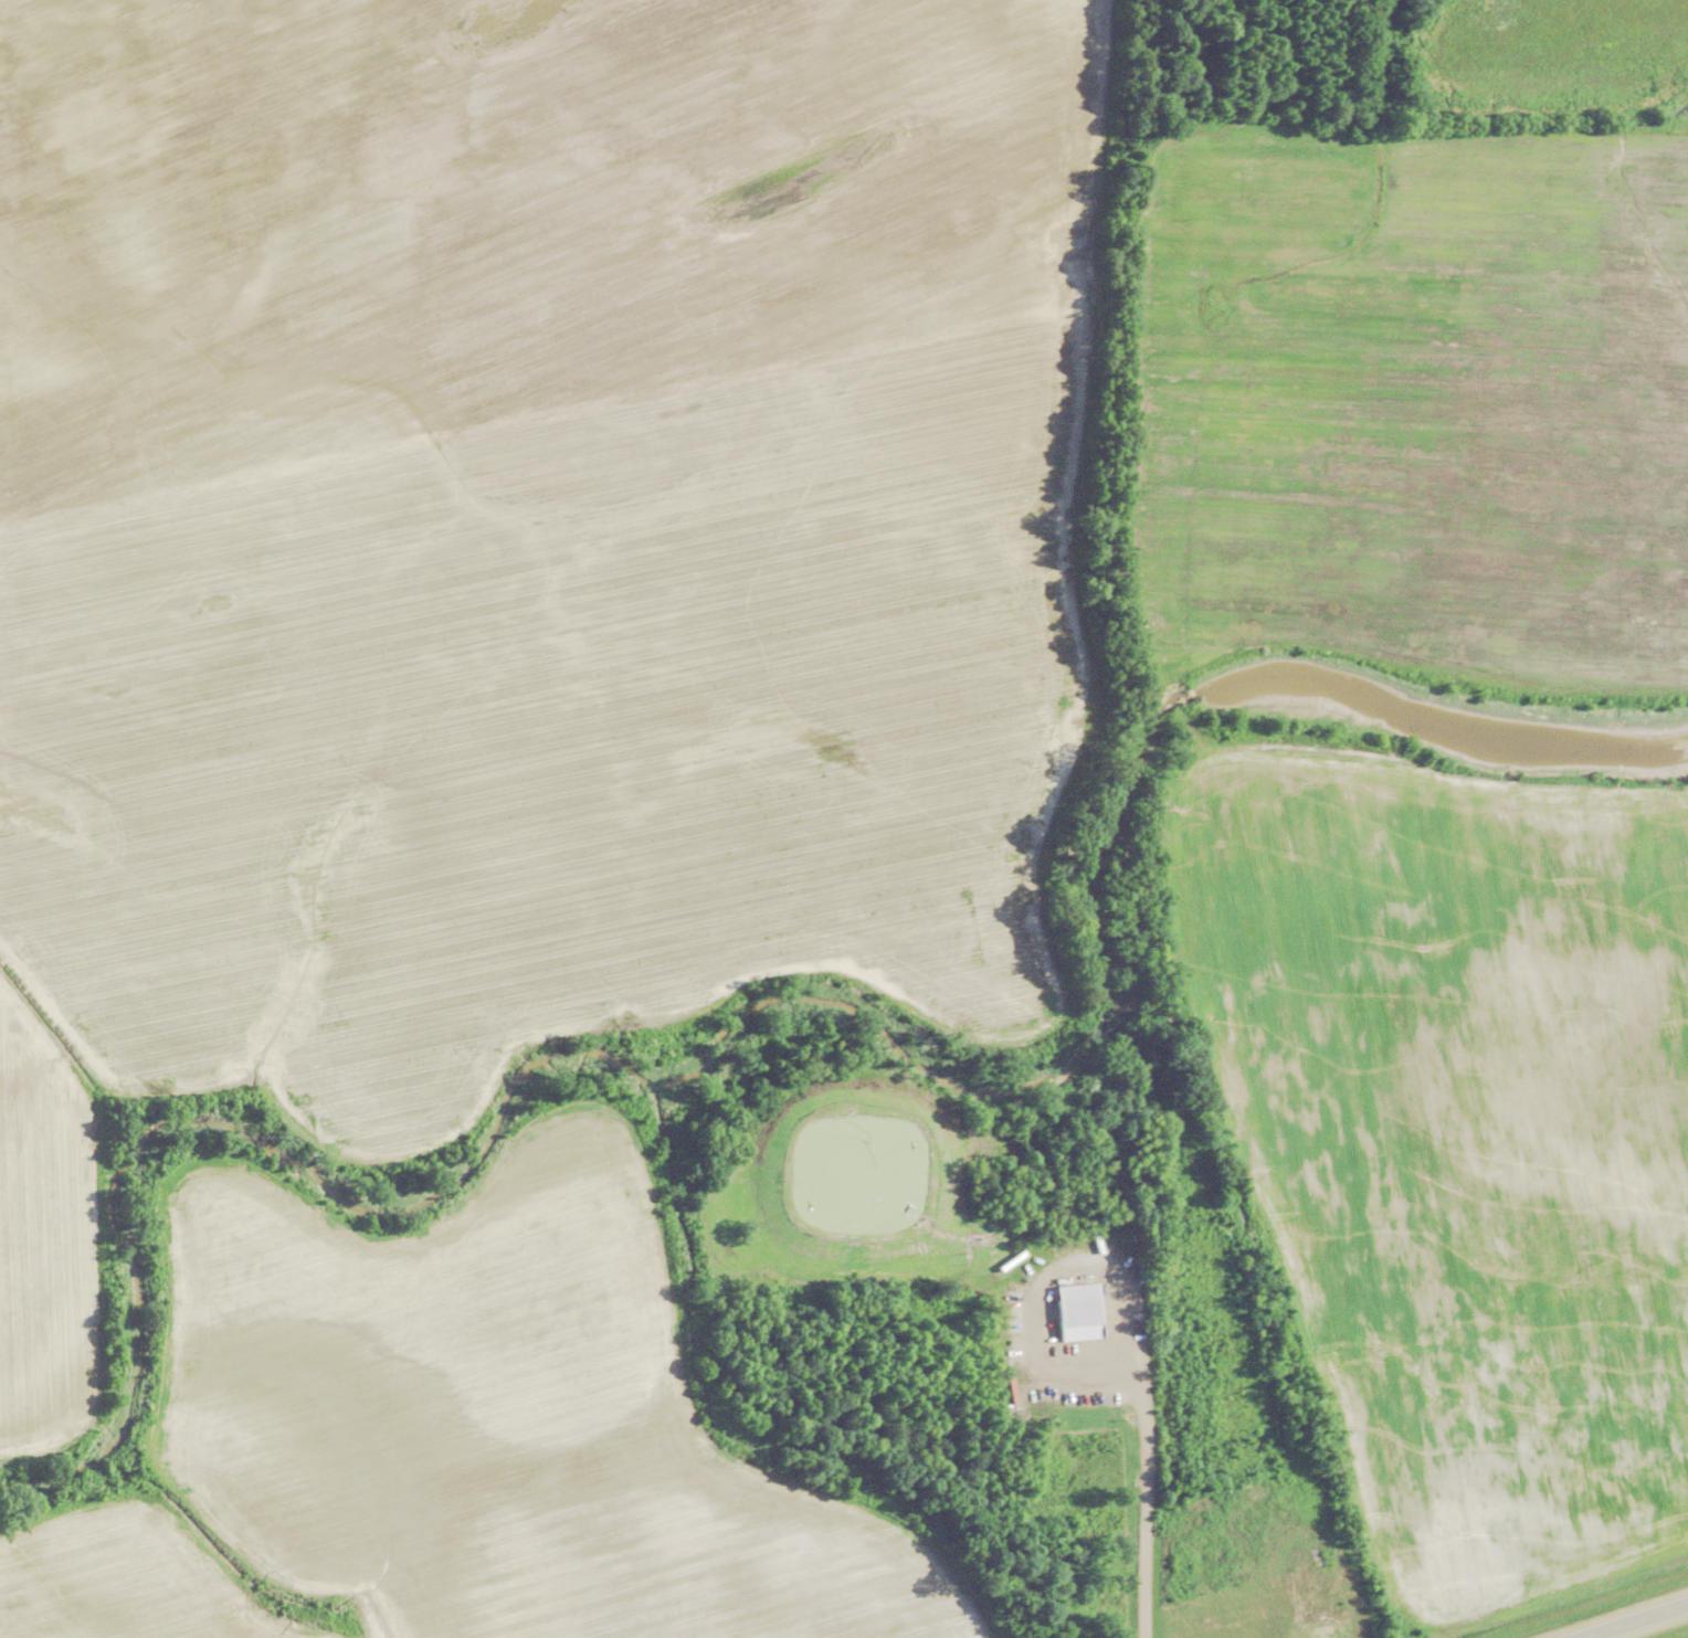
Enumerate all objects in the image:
building: (1083, 1310)
road: (1142, 1455)
building: (1308, 1592)
road: (1635, 1620)

